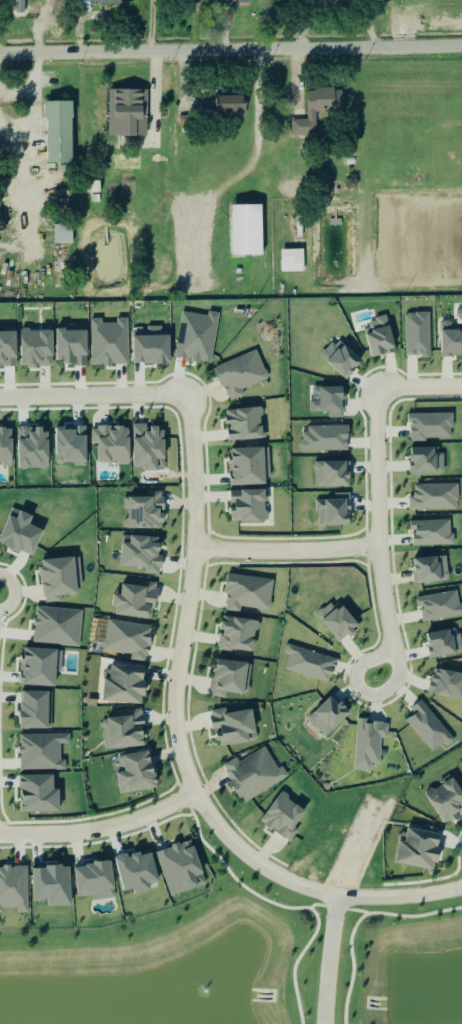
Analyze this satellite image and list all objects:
building: (108, 2)
building: (235, 2)
road: (333, 5)
building: (30, 7)
road: (231, 50)
road: (30, 80)
building: (231, 105)
building: (315, 111)
building: (128, 113)
road: (29, 118)
building: (184, 121)
building: (59, 131)
road: (258, 132)
building: (95, 186)
building: (246, 230)
building: (62, 233)
building: (290, 261)
building: (418, 334)
building: (380, 336)
building: (451, 339)
building: (110, 342)
building: (71, 344)
building: (152, 347)
building: (8, 349)
building: (37, 349)
building: (341, 358)
building: (241, 374)
road: (419, 386)
road: (94, 396)
building: (328, 401)
building: (245, 423)
building: (431, 426)
building: (325, 438)
building: (72, 442)
building: (112, 444)
building: (6, 446)
building: (34, 446)
building: (148, 446)
building: (426, 460)
building: (248, 466)
building: (332, 474)
building: (434, 497)
building: (249, 505)
building: (334, 510)
building: (145, 511)
building: (21, 533)
building: (432, 533)
road: (286, 551)
building: (142, 553)
building: (431, 569)
building: (58, 578)
road: (382, 588)
building: (249, 593)
building: (136, 600)
building: (439, 605)
building: (338, 620)
building: (56, 626)
building: (239, 634)
road: (183, 638)
building: (128, 639)
building: (445, 642)
building: (310, 663)
building: (39, 667)
building: (229, 677)
building: (125, 684)
building: (446, 684)
building: (90, 702)
building: (34, 709)
building: (329, 716)
building: (234, 726)
building: (429, 727)
building: (124, 730)
building: (369, 743)
building: (42, 751)
building: (136, 772)
building: (254, 774)
building: (39, 793)
building: (447, 798)
road: (191, 811)
building: (284, 817)
road: (100, 828)
building: (419, 849)
building: (181, 868)
building: (137, 872)
building: (95, 880)
road: (236, 880)
building: (52, 885)
building: (14, 888)
road: (352, 898)
road: (316, 905)
road: (336, 908)
road: (357, 910)
road: (414, 917)
road: (329, 960)
road: (296, 962)
park: (400, 964)
road: (353, 966)

